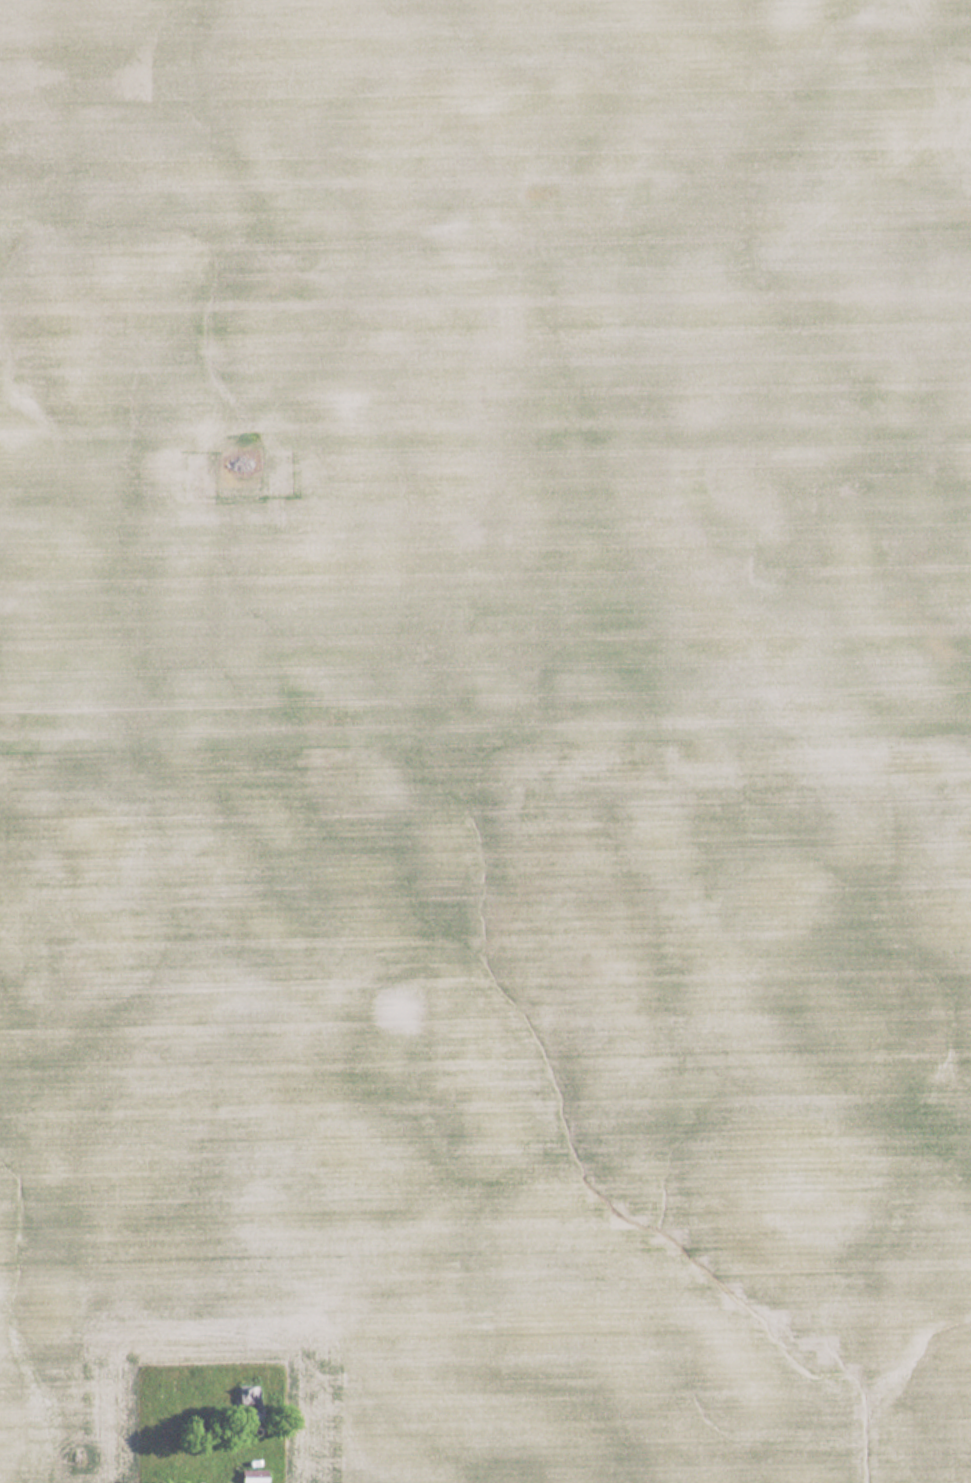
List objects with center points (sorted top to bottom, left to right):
building: (244, 1403)

